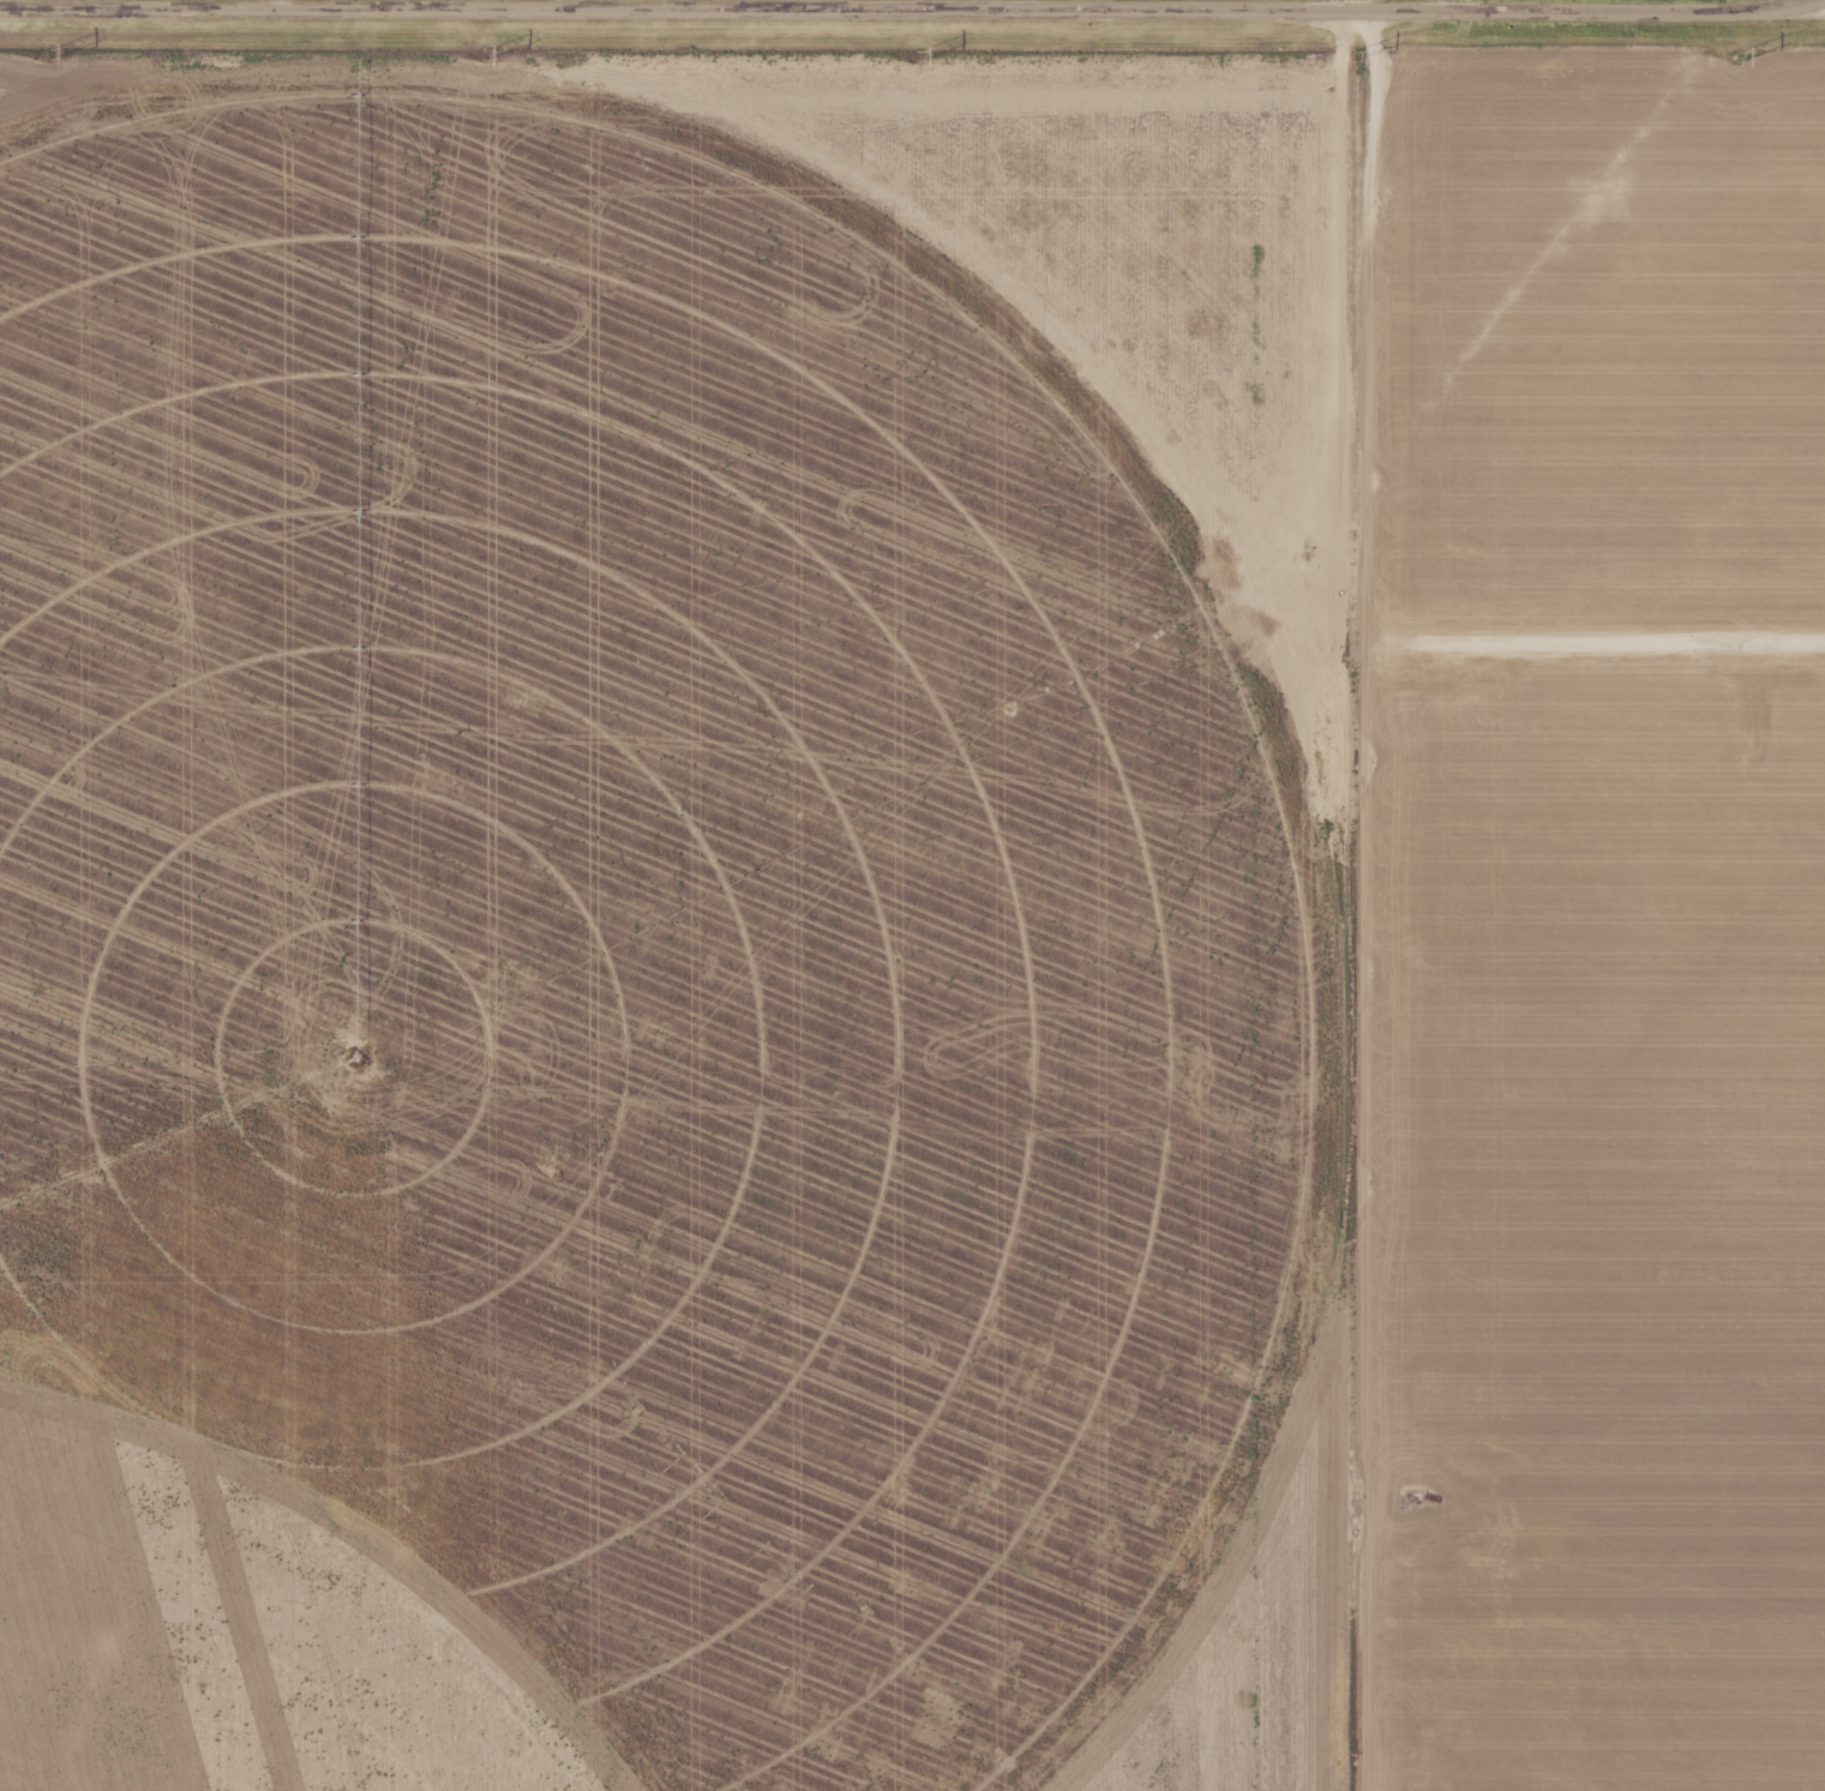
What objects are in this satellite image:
road: (911, 11)
power tower: (47, 55)
power tower: (485, 56)
power tower: (917, 56)
power tower: (1712, 60)
road: (1374, 191)
wind turbine: (1465, 669)

